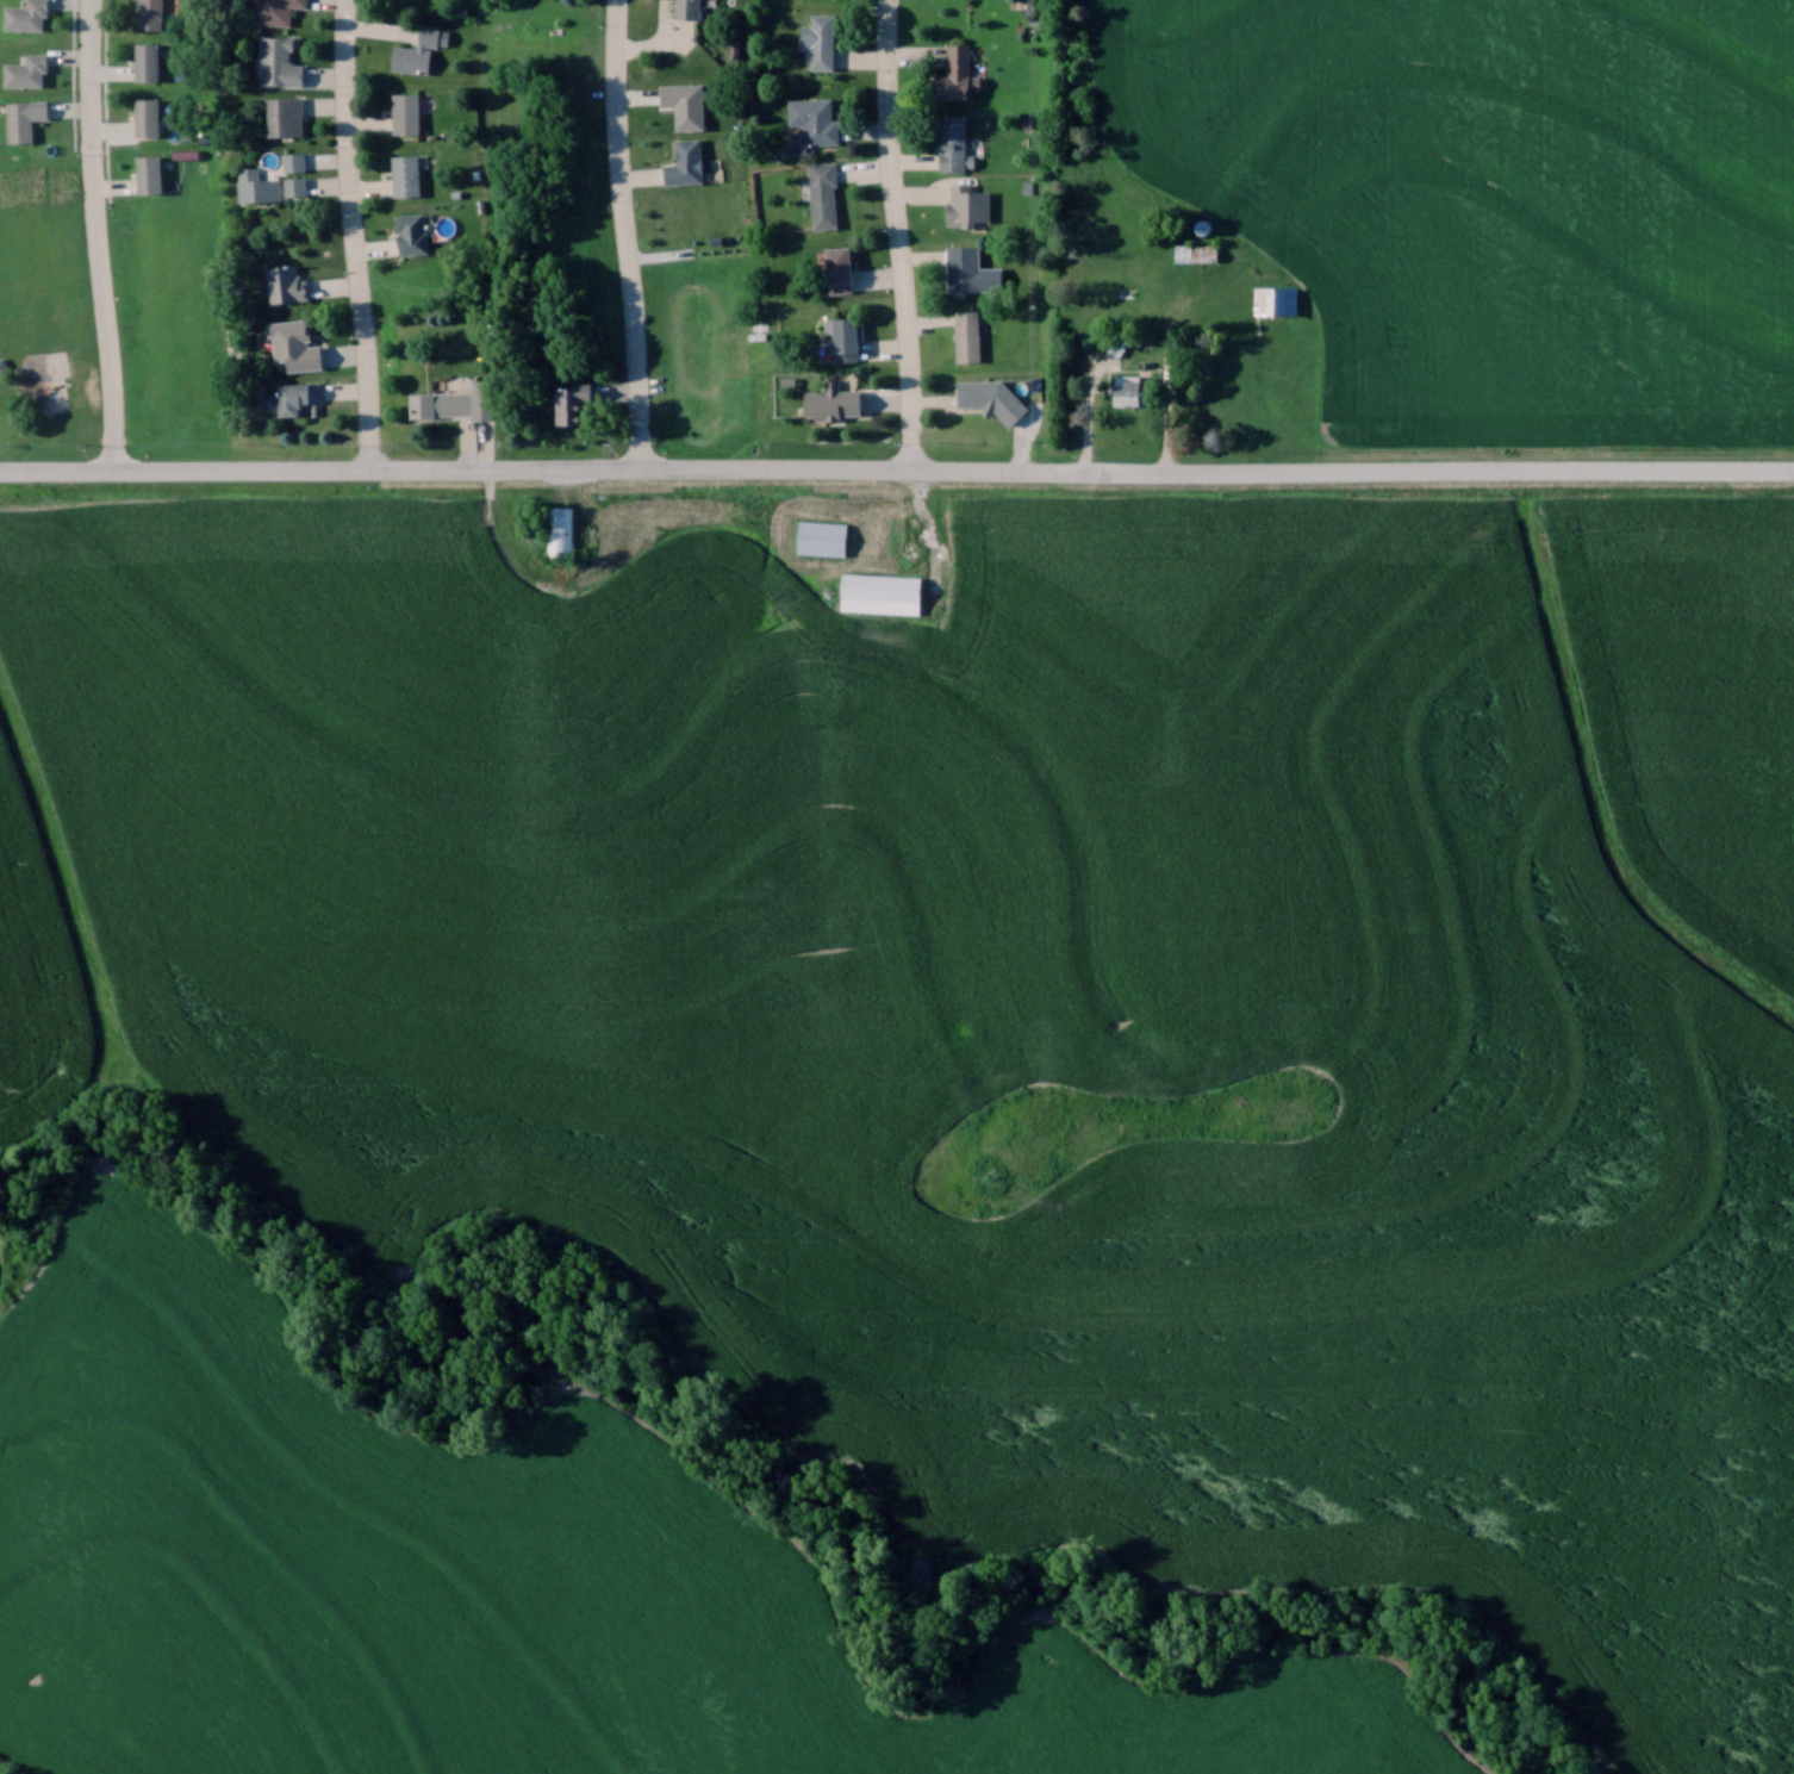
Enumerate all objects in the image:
building: (687, 7)
building: (276, 11)
building: (150, 13)
building: (26, 14)
building: (821, 38)
building: (419, 49)
building: (147, 58)
building: (279, 61)
building: (26, 69)
building: (955, 73)
building: (685, 101)
building: (406, 111)
building: (148, 114)
building: (285, 114)
building: (24, 117)
building: (815, 118)
building: (953, 141)
building: (293, 161)
building: (686, 161)
building: (150, 172)
building: (406, 174)
building: (273, 187)
building: (823, 193)
building: (967, 204)
building: (413, 232)
road: (627, 232)
road: (351, 234)
road: (896, 234)
road: (95, 235)
building: (1196, 251)
building: (840, 263)
building: (964, 267)
building: (287, 282)
building: (1275, 299)
building: (966, 335)
building: (846, 338)
building: (295, 346)
road: (1172, 371)
building: (1132, 388)
building: (974, 392)
building: (295, 399)
building: (572, 400)
building: (456, 402)
building: (833, 403)
road: (1453, 467)
road: (557, 468)
building: (559, 530)
building: (821, 536)
road: (936, 549)
road: (542, 580)
building: (882, 592)
road: (58, 884)

